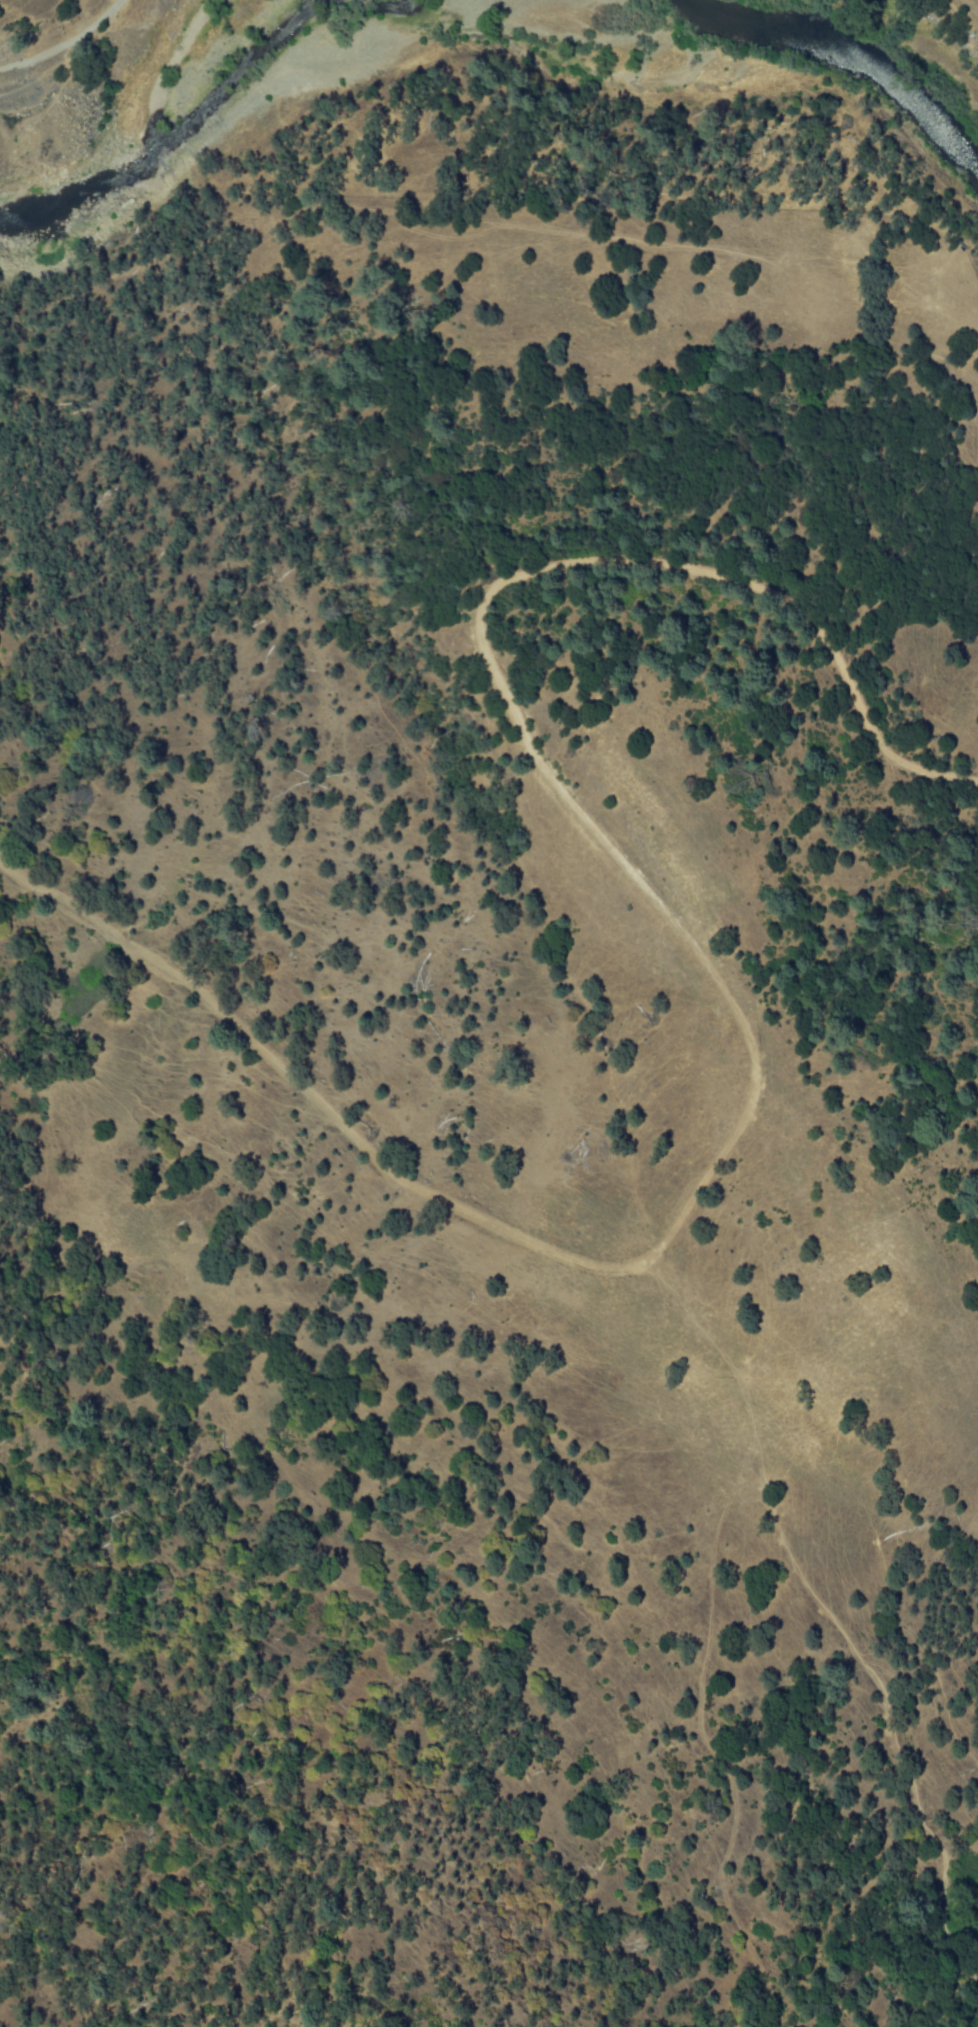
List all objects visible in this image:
road: (68, 38)
river: (831, 51)
river: (309, 69)
river: (225, 76)
river: (82, 203)

